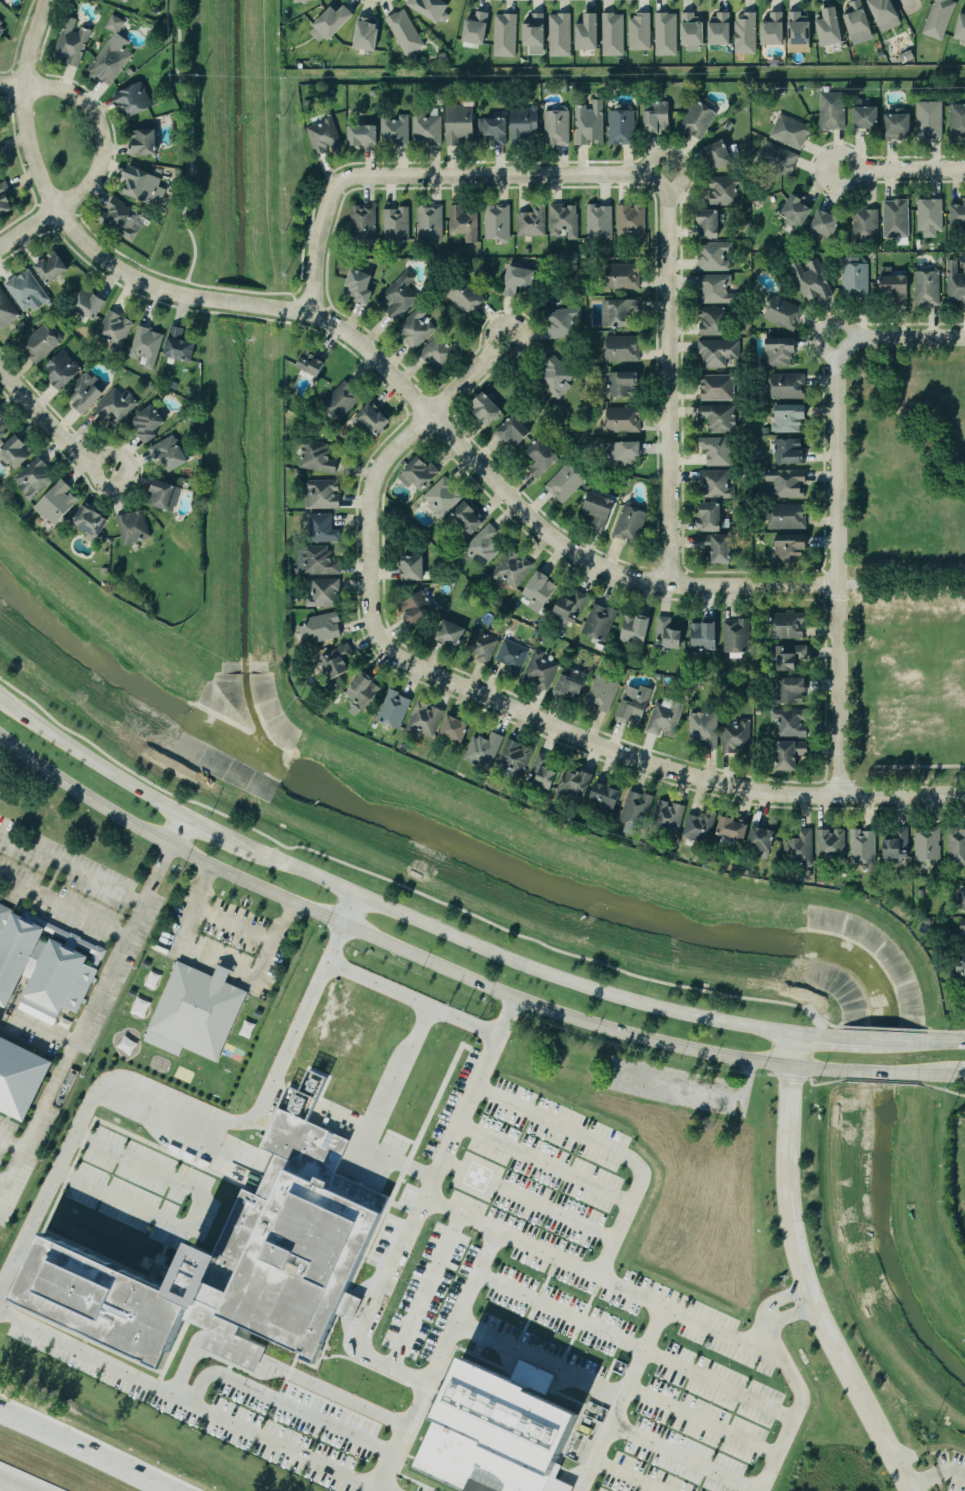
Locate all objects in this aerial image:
building: (298, 1)
building: (429, 8)
building: (887, 14)
building: (941, 18)
building: (859, 22)
building: (333, 23)
building: (3, 27)
building: (478, 28)
building: (832, 28)
building: (721, 29)
building: (775, 29)
building: (962, 29)
building: (694, 30)
building: (535, 31)
building: (800, 31)
building: (403, 32)
building: (641, 32)
building: (590, 34)
building: (667, 34)
building: (747, 34)
building: (368, 35)
building: (506, 35)
building: (561, 35)
building: (614, 35)
road: (32, 41)
building: (74, 41)
building: (111, 54)
building: (879, 54)
road: (12, 84)
building: (564, 88)
building: (136, 100)
building: (833, 111)
building: (658, 117)
building: (868, 118)
building: (700, 120)
building: (930, 120)
building: (958, 121)
building: (590, 123)
building: (461, 124)
building: (900, 124)
building: (526, 125)
building: (622, 126)
building: (557, 128)
road: (100, 129)
building: (396, 130)
building: (428, 130)
building: (495, 130)
building: (792, 132)
building: (325, 134)
building: (365, 136)
road: (190, 142)
building: (145, 143)
road: (31, 149)
building: (721, 155)
building: (779, 158)
building: (0, 170)
road: (902, 171)
road: (433, 176)
building: (145, 186)
building: (725, 191)
park: (294, 195)
building: (6, 201)
building: (799, 212)
building: (931, 215)
building: (959, 215)
building: (897, 218)
building: (125, 219)
building: (564, 221)
building: (498, 222)
building: (600, 222)
building: (632, 222)
building: (431, 223)
building: (465, 223)
building: (532, 223)
building: (365, 224)
building: (397, 224)
building: (827, 224)
building: (712, 225)
building: (866, 225)
road: (28, 229)
building: (714, 257)
building: (53, 268)
building: (625, 276)
building: (520, 280)
building: (857, 280)
building: (812, 281)
building: (956, 283)
building: (361, 287)
building: (896, 287)
building: (928, 288)
building: (717, 289)
building: (28, 292)
road: (250, 292)
building: (401, 296)
building: (468, 298)
building: (91, 304)
building: (7, 311)
building: (785, 313)
building: (618, 314)
building: (563, 322)
building: (715, 322)
building: (418, 328)
building: (116, 329)
road: (899, 336)
building: (42, 344)
building: (180, 346)
building: (148, 347)
building: (623, 349)
building: (438, 352)
building: (719, 352)
building: (781, 352)
building: (313, 364)
building: (64, 371)
building: (558, 377)
road: (668, 378)
building: (625, 384)
building: (789, 386)
building: (719, 387)
building: (88, 392)
building: (343, 400)
building: (117, 406)
building: (487, 410)
building: (719, 418)
building: (791, 418)
building: (374, 420)
building: (624, 420)
building: (150, 424)
road: (51, 425)
road: (438, 426)
building: (4, 428)
building: (514, 433)
building: (718, 451)
building: (790, 452)
building: (17, 453)
building: (171, 454)
building: (626, 454)
building: (318, 458)
building: (543, 459)
road: (377, 471)
building: (421, 474)
building: (35, 479)
building: (566, 483)
building: (787, 483)
building: (718, 485)
building: (323, 494)
building: (165, 496)
building: (443, 497)
building: (58, 503)
building: (601, 510)
building: (790, 517)
building: (713, 518)
building: (470, 519)
building: (92, 523)
building: (631, 525)
building: (131, 527)
building: (324, 529)
building: (486, 545)
building: (720, 548)
building: (793, 548)
building: (318, 561)
road: (836, 565)
building: (415, 567)
park: (905, 567)
building: (513, 570)
road: (901, 582)
building: (542, 589)
building: (324, 592)
building: (572, 607)
building: (418, 608)
building: (600, 622)
building: (790, 625)
building: (321, 628)
building: (636, 631)
building: (453, 633)
building: (669, 635)
building: (705, 636)
building: (737, 636)
building: (483, 645)
building: (514, 656)
building: (792, 656)
building: (338, 662)
building: (541, 669)
building: (656, 676)
building: (572, 684)
building: (793, 690)
building: (364, 692)
building: (603, 693)
building: (635, 705)
building: (396, 709)
building: (427, 718)
building: (666, 719)
building: (792, 722)
building: (705, 728)
building: (457, 729)
building: (737, 737)
road: (607, 748)
building: (485, 749)
building: (792, 754)
building: (515, 758)
road: (90, 759)
building: (545, 772)
building: (577, 783)
building: (608, 795)
road: (901, 795)
building: (637, 811)
building: (670, 815)
building: (702, 826)
road: (141, 828)
building: (735, 828)
road: (178, 833)
road: (216, 833)
building: (763, 841)
building: (832, 843)
building: (898, 844)
building: (957, 844)
building: (929, 845)
building: (802, 847)
building: (864, 847)
road: (71, 869)
building: (919, 892)
building: (962, 898)
road: (350, 908)
road: (62, 909)
building: (4, 914)
building: (963, 925)
road: (233, 926)
building: (964, 956)
road: (219, 958)
road: (513, 959)
building: (961, 967)
road: (220, 971)
building: (40, 998)
road: (432, 1006)
road: (559, 1012)
building: (193, 1014)
road: (89, 1015)
road: (821, 1035)
road: (862, 1038)
road: (897, 1040)
road: (942, 1041)
road: (791, 1049)
building: (574, 1062)
road: (882, 1074)
road: (939, 1076)
road: (959, 1077)
road: (695, 1092)
road: (173, 1100)
road: (381, 1109)
road: (613, 1149)
road: (11, 1150)
building: (703, 1150)
road: (442, 1155)
road: (542, 1163)
helipad: (478, 1176)
road: (4, 1181)
road: (4, 1191)
road: (194, 1212)
road: (558, 1213)
road: (529, 1249)
building: (231, 1263)
road: (804, 1290)
road: (426, 1292)
road: (370, 1308)
road: (638, 1343)
road: (537, 1360)
road: (276, 1368)
road: (618, 1399)
road: (192, 1400)
road: (284, 1407)
road: (798, 1410)
road: (701, 1421)
building: (496, 1431)
road: (79, 1453)
road: (680, 1458)
road: (624, 1475)
road: (935, 1475)
road: (4, 1488)

